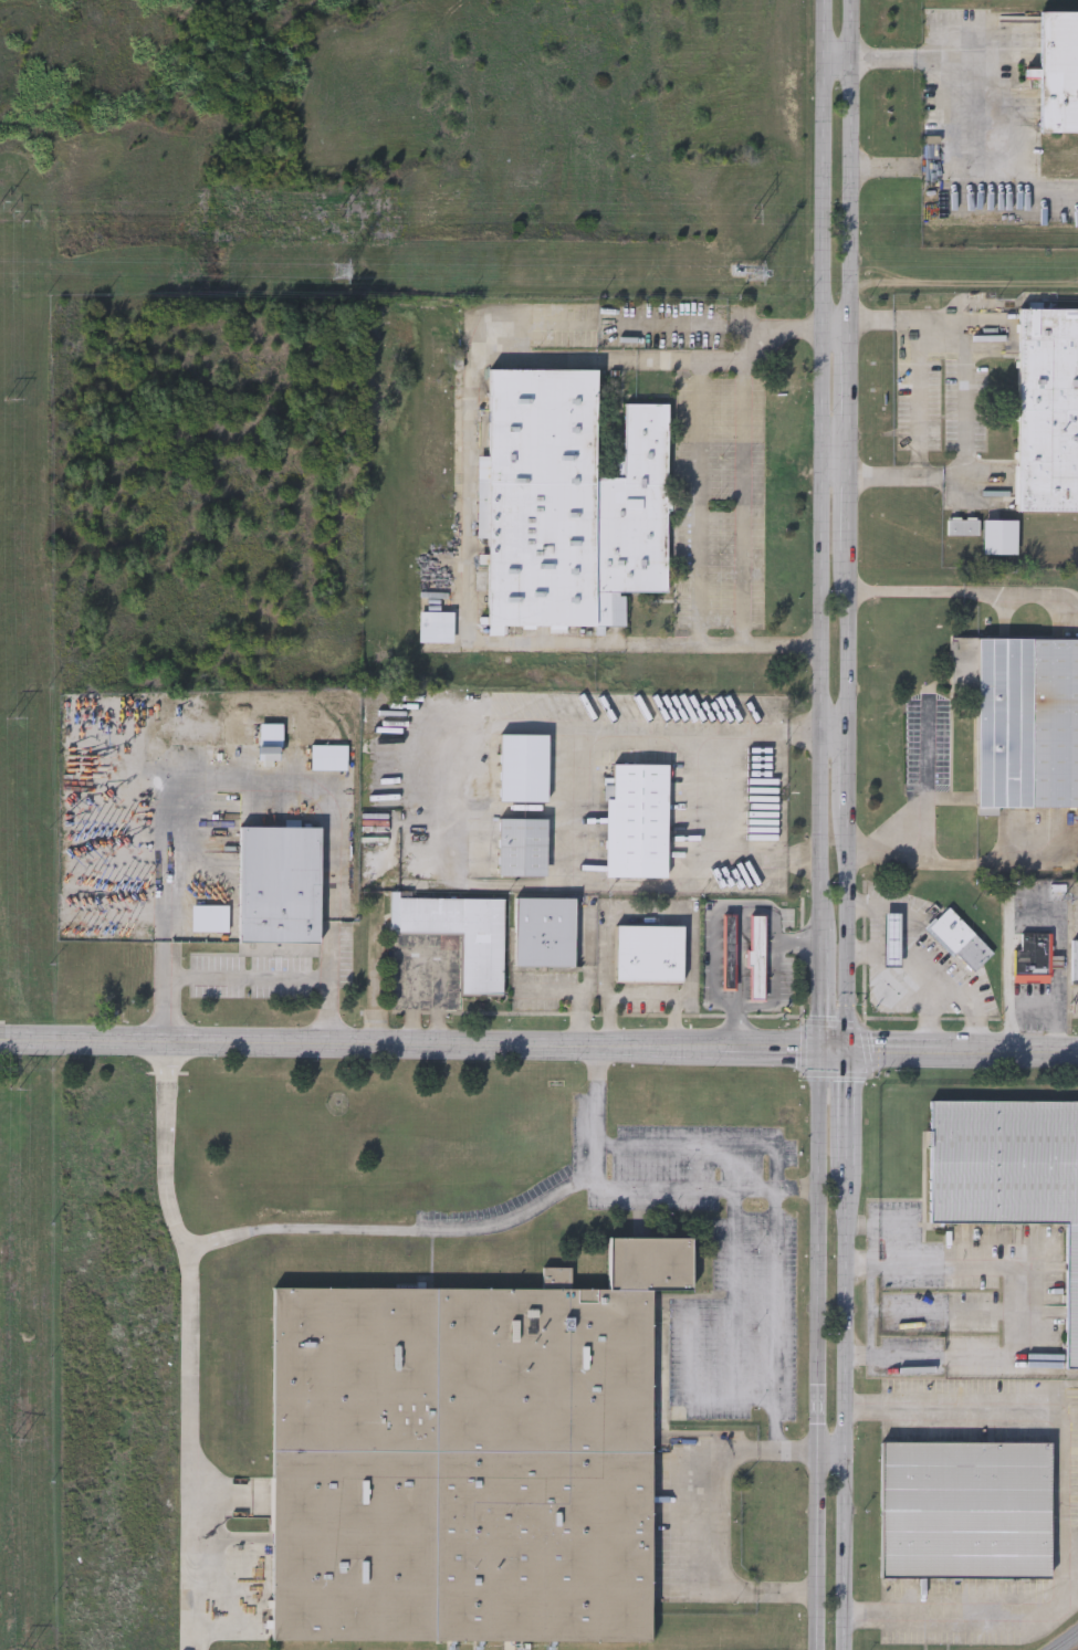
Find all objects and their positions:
building: (1058, 71)
road: (973, 95)
power tower: (12, 212)
power tower: (756, 217)
power tower: (343, 274)
power tower: (756, 275)
road: (635, 324)
road: (750, 325)
road: (964, 409)
building: (1047, 409)
road: (836, 479)
road: (744, 483)
building: (568, 502)
road: (699, 502)
building: (963, 526)
building: (999, 537)
road: (963, 590)
building: (436, 624)
building: (1022, 717)
road: (557, 727)
road: (835, 734)
building: (270, 742)
building: (328, 756)
building: (522, 768)
road: (934, 781)
road: (697, 789)
road: (332, 799)
building: (636, 820)
road: (823, 824)
road: (844, 824)
building: (522, 847)
road: (760, 847)
road: (962, 859)
road: (511, 883)
building: (279, 884)
road: (574, 884)
road: (163, 893)
road: (651, 916)
building: (209, 917)
building: (543, 931)
road: (1061, 932)
building: (957, 938)
road: (871, 946)
building: (648, 953)
building: (729, 953)
road: (429, 954)
building: (756, 957)
building: (1030, 958)
building: (1074, 960)
building: (481, 964)
road: (925, 966)
building: (903, 975)
road: (1007, 978)
road: (248, 979)
road: (578, 989)
road: (775, 994)
road: (646, 995)
road: (1055, 1007)
road: (932, 1013)
road: (191, 1043)
road: (730, 1049)
traffic signals: (820, 1050)
traffic signals: (841, 1050)
road: (167, 1063)
road: (597, 1063)
road: (595, 1131)
road: (707, 1145)
building: (1008, 1170)
road: (584, 1184)
road: (619, 1186)
road: (698, 1187)
road: (763, 1188)
road: (809, 1188)
road: (877, 1225)
road: (299, 1228)
road: (1007, 1263)
road: (871, 1290)
road: (776, 1297)
road: (729, 1315)
road: (893, 1356)
road: (190, 1410)
road: (778, 1439)
road: (771, 1448)
road: (735, 1449)
road: (799, 1449)
road: (833, 1450)
building: (470, 1458)
road: (1060, 1507)
building: (964, 1511)
road: (709, 1543)
road: (787, 1590)
railway: (1064, 1640)

